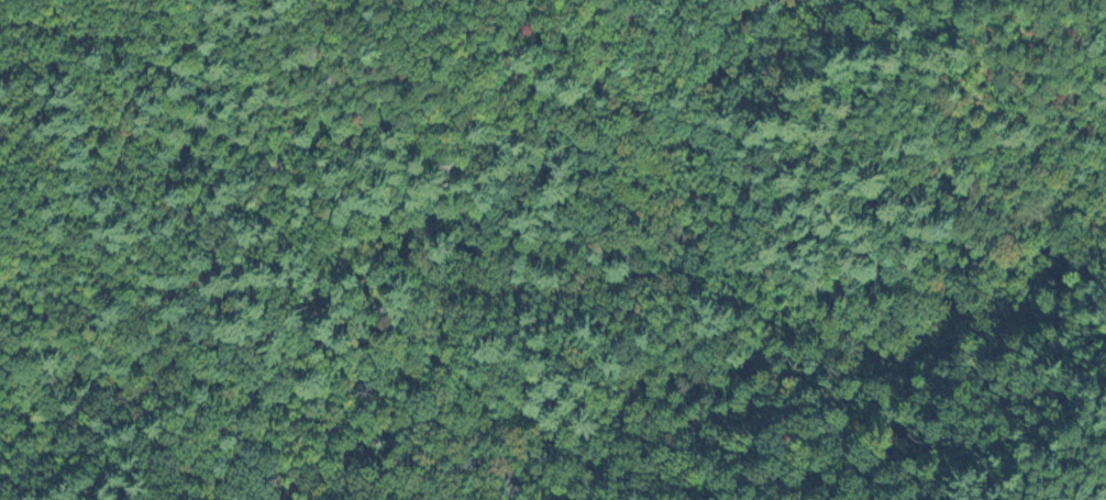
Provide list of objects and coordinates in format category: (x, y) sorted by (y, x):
road: (770, 311)

